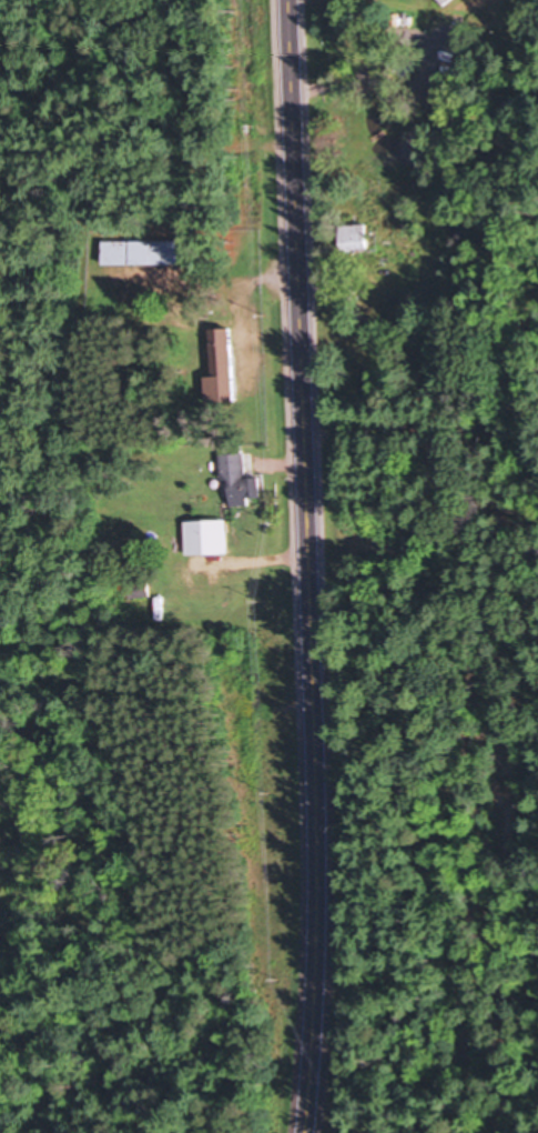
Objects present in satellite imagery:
building: (353, 237)
building: (141, 252)
building: (220, 364)
building: (236, 480)
building: (205, 538)
building: (418, 547)
road: (311, 566)

